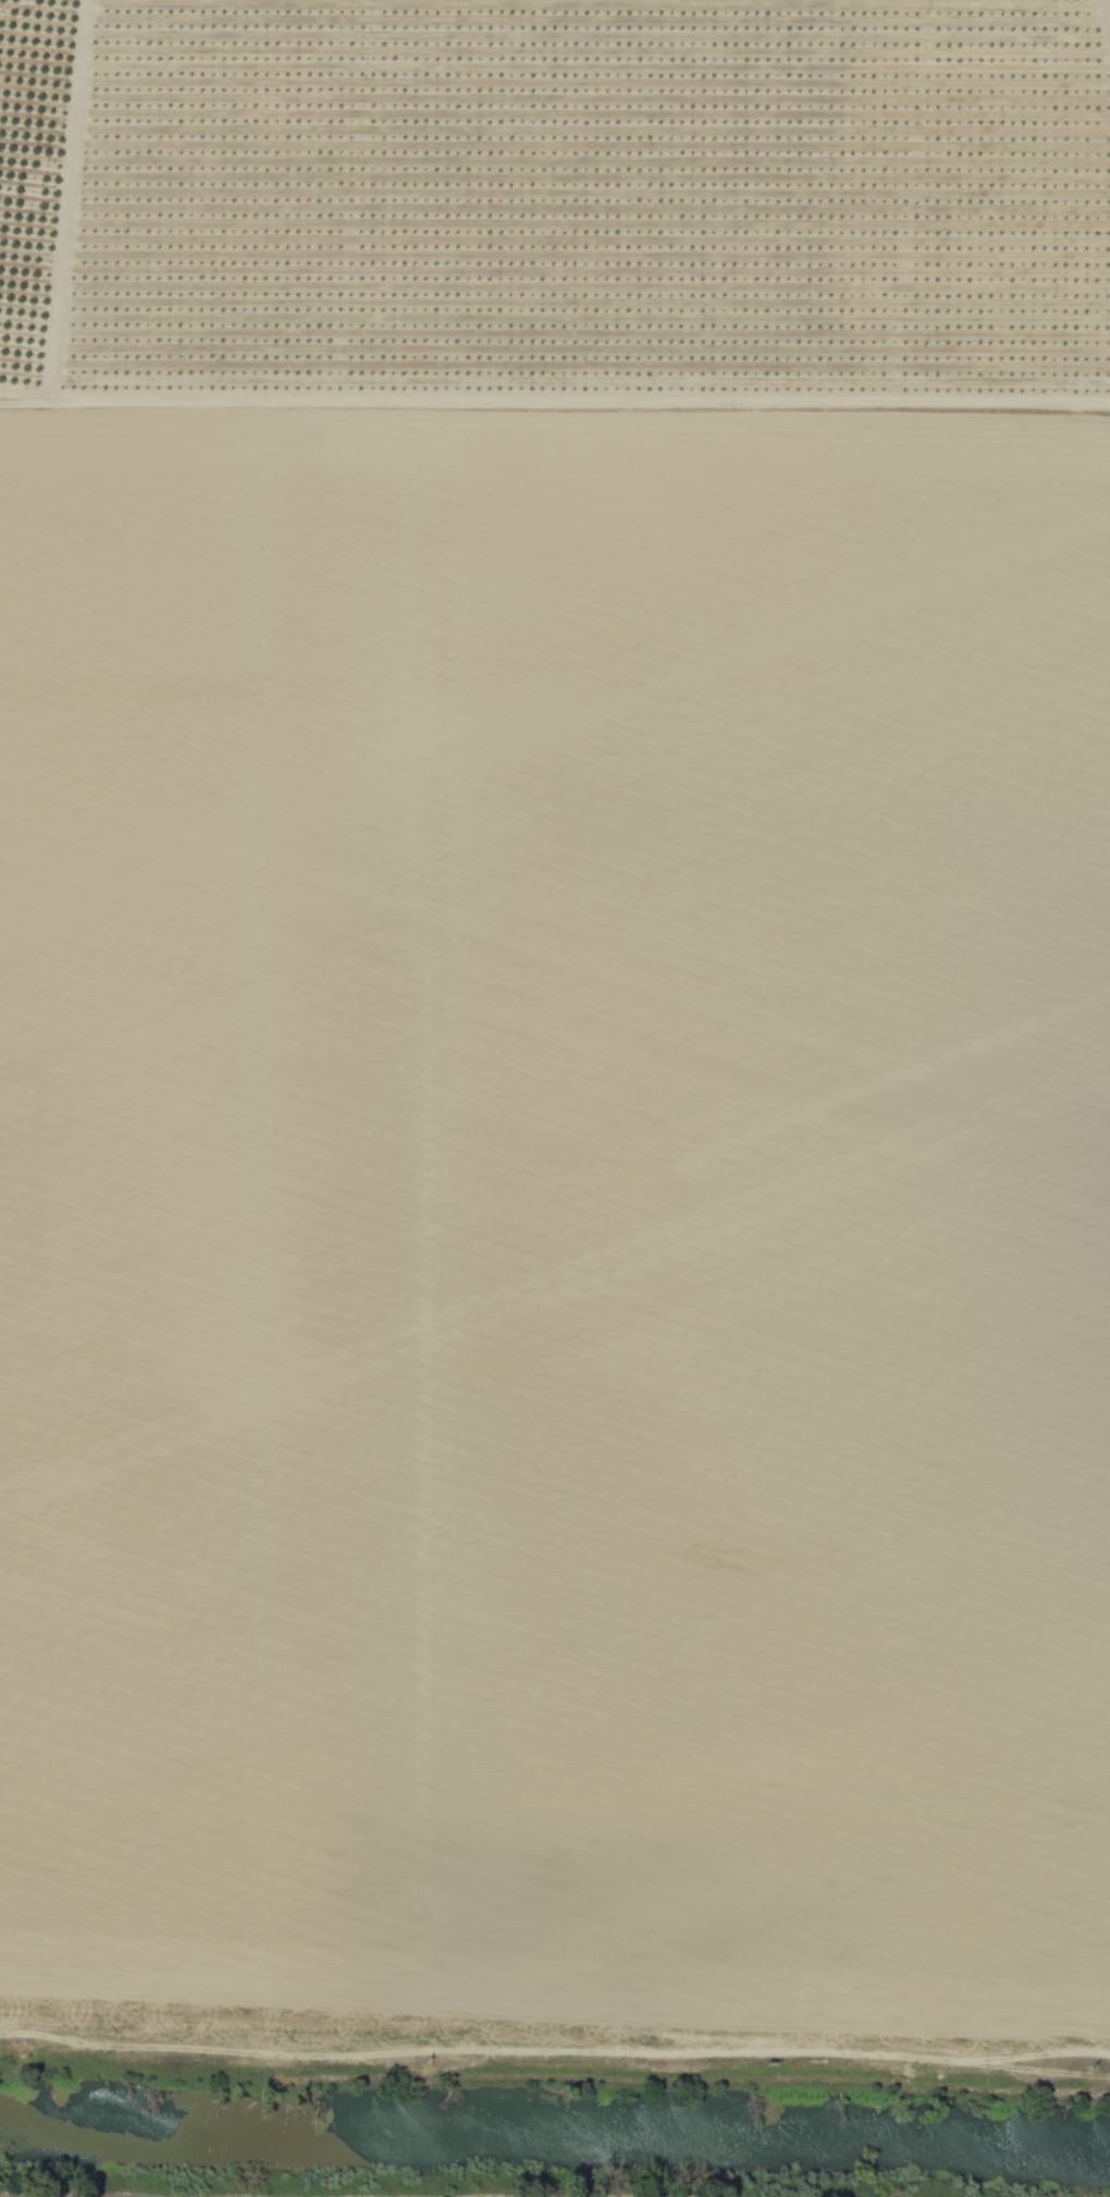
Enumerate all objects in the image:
crop: (553, 1023)

